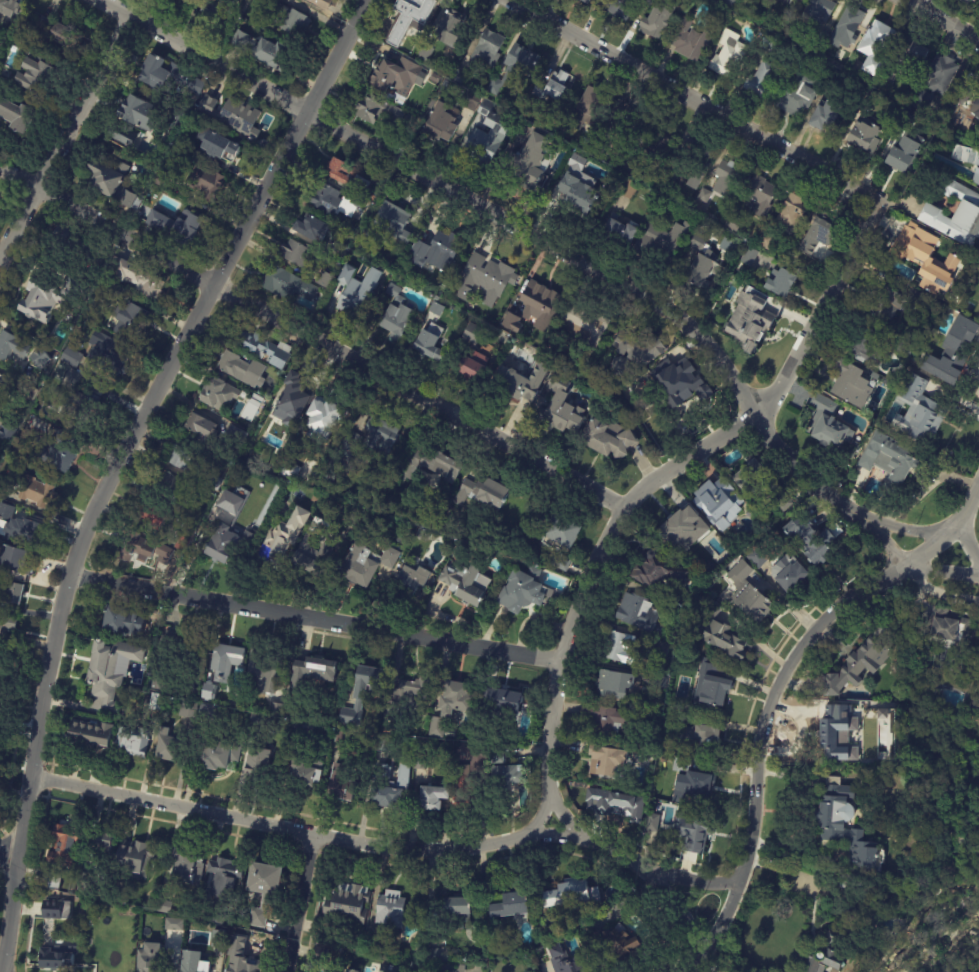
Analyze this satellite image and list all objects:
building: (181, 0)
building: (958, 0)
building: (975, 0)
building: (586, 1)
building: (783, 1)
building: (797, 1)
building: (967, 1)
building: (970, 1)
building: (729, 2)
building: (320, 4)
building: (773, 4)
building: (10, 7)
building: (619, 8)
building: (217, 9)
building: (818, 11)
building: (410, 17)
building: (658, 19)
building: (287, 20)
road: (941, 20)
building: (847, 25)
building: (450, 27)
building: (51, 31)
building: (691, 42)
building: (815, 42)
building: (768, 43)
building: (876, 47)
building: (488, 48)
building: (263, 51)
building: (424, 53)
building: (727, 53)
building: (911, 55)
building: (859, 56)
building: (443, 65)
building: (515, 67)
building: (36, 74)
building: (460, 76)
building: (166, 77)
building: (395, 77)
building: (436, 79)
building: (761, 79)
building: (887, 79)
building: (936, 81)
building: (552, 87)
building: (963, 94)
building: (798, 96)
building: (873, 97)
building: (470, 101)
road: (696, 101)
building: (977, 106)
building: (588, 108)
building: (377, 111)
building: (231, 114)
building: (15, 116)
building: (827, 116)
building: (175, 117)
building: (132, 120)
building: (906, 121)
building: (629, 122)
building: (408, 123)
building: (439, 124)
building: (864, 135)
road: (66, 136)
building: (487, 137)
building: (658, 140)
building: (585, 144)
building: (189, 145)
building: (599, 149)
building: (225, 151)
building: (905, 153)
building: (968, 158)
building: (695, 161)
building: (631, 168)
building: (527, 169)
building: (338, 171)
building: (728, 179)
building: (161, 181)
building: (205, 182)
building: (666, 183)
building: (112, 184)
building: (359, 184)
building: (581, 187)
building: (629, 189)
building: (704, 196)
building: (760, 196)
building: (333, 202)
building: (792, 215)
building: (956, 215)
building: (734, 220)
building: (392, 223)
road: (508, 225)
building: (176, 227)
building: (311, 229)
building: (622, 230)
building: (63, 233)
building: (818, 234)
building: (766, 240)
building: (660, 243)
building: (434, 249)
building: (338, 251)
building: (295, 253)
building: (749, 257)
building: (928, 261)
building: (337, 263)
building: (703, 263)
building: (484, 277)
building: (138, 280)
building: (323, 280)
building: (781, 283)
building: (287, 285)
building: (357, 288)
building: (41, 301)
building: (895, 303)
building: (540, 306)
building: (436, 307)
building: (394, 311)
building: (749, 320)
building: (131, 321)
building: (511, 325)
building: (583, 326)
road: (310, 337)
building: (428, 340)
building: (899, 346)
building: (12, 347)
building: (868, 347)
building: (263, 349)
building: (637, 349)
building: (471, 353)
building: (947, 353)
building: (106, 356)
building: (70, 357)
building: (40, 358)
building: (241, 370)
building: (875, 376)
building: (73, 378)
building: (681, 382)
building: (520, 384)
building: (851, 385)
building: (4, 387)
building: (215, 395)
building: (288, 400)
building: (77, 409)
building: (250, 409)
building: (562, 409)
building: (920, 410)
building: (325, 418)
building: (200, 425)
building: (828, 425)
building: (266, 428)
building: (7, 434)
building: (380, 439)
building: (608, 439)
building: (59, 453)
building: (341, 457)
road: (116, 459)
building: (178, 459)
building: (891, 459)
building: (432, 461)
building: (289, 471)
building: (209, 474)
road: (673, 475)
building: (754, 479)
building: (1, 486)
building: (34, 490)
building: (175, 493)
building: (482, 494)
building: (718, 504)
building: (784, 504)
building: (356, 518)
building: (152, 519)
building: (683, 525)
building: (18, 526)
building: (230, 528)
road: (908, 530)
building: (423, 534)
building: (561, 534)
building: (184, 540)
building: (282, 540)
road: (881, 542)
building: (809, 543)
road: (966, 544)
building: (136, 549)
building: (312, 551)
building: (162, 555)
building: (758, 558)
building: (14, 562)
building: (560, 564)
building: (366, 565)
road: (939, 573)
building: (659, 574)
building: (788, 574)
building: (412, 579)
building: (465, 584)
building: (522, 589)
building: (13, 593)
building: (749, 595)
building: (673, 608)
building: (712, 609)
building: (640, 615)
road: (317, 616)
building: (121, 620)
building: (6, 624)
building: (948, 631)
building: (725, 640)
building: (620, 649)
building: (661, 650)
building: (225, 660)
building: (172, 662)
building: (860, 664)
building: (109, 665)
building: (265, 669)
building: (310, 673)
building: (660, 681)
building: (614, 683)
building: (713, 686)
building: (208, 690)
road: (775, 690)
building: (362, 693)
building: (407, 696)
building: (454, 698)
building: (505, 699)
building: (156, 702)
building: (974, 707)
building: (277, 708)
building: (604, 720)
building: (439, 728)
building: (302, 729)
building: (90, 731)
building: (836, 733)
building: (695, 734)
building: (344, 737)
building: (132, 741)
building: (168, 744)
building: (384, 745)
building: (213, 755)
building: (499, 755)
building: (606, 760)
building: (419, 762)
building: (256, 765)
building: (681, 765)
building: (477, 766)
building: (303, 772)
building: (507, 774)
building: (381, 778)
building: (340, 782)
building: (696, 788)
building: (462, 791)
building: (431, 797)
building: (616, 803)
road: (538, 814)
road: (563, 819)
building: (653, 820)
building: (844, 828)
building: (694, 830)
building: (103, 841)
building: (64, 845)
road: (384, 847)
road: (9, 856)
building: (132, 858)
building: (182, 866)
road: (780, 868)
building: (223, 875)
building: (52, 880)
building: (86, 880)
building: (846, 881)
building: (263, 888)
building: (572, 895)
road: (301, 902)
building: (347, 904)
building: (510, 905)
building: (164, 907)
building: (391, 909)
building: (56, 910)
building: (456, 911)
building: (853, 913)
building: (73, 916)
building: (173, 924)
building: (218, 932)
building: (618, 941)
building: (375, 949)
building: (828, 954)
building: (437, 955)
building: (320, 956)
building: (55, 957)
building: (109, 957)
building: (241, 957)
building: (563, 960)
building: (150, 962)
building: (197, 964)
park: (971, 966)
road: (2, 968)
building: (388, 968)
building: (452, 968)
building: (515, 968)
building: (332, 969)
building: (350, 971)

